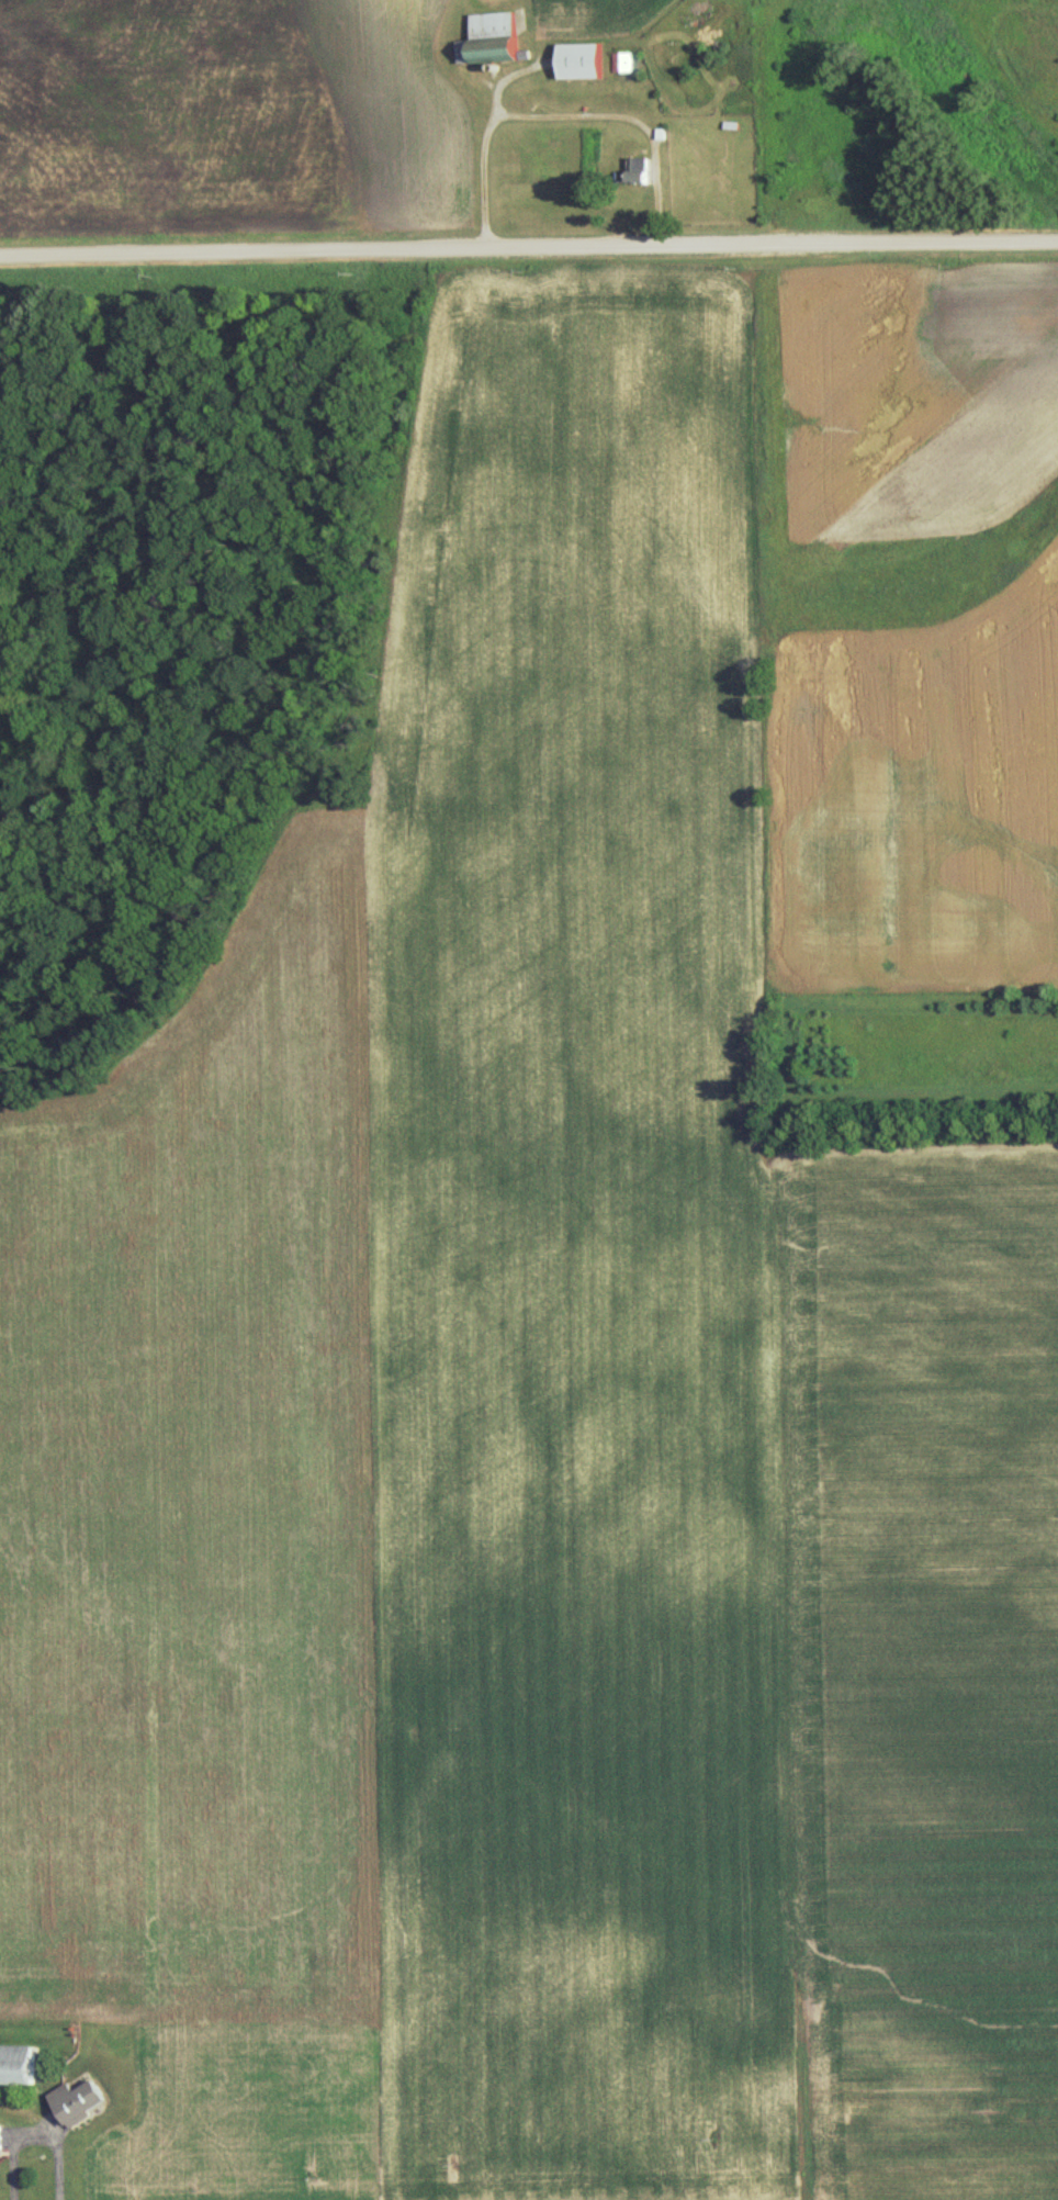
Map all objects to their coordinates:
building: (489, 33)
building: (582, 57)
building: (621, 60)
building: (642, 167)
road: (528, 247)
building: (21, 2063)
building: (83, 2099)
building: (3, 2136)

